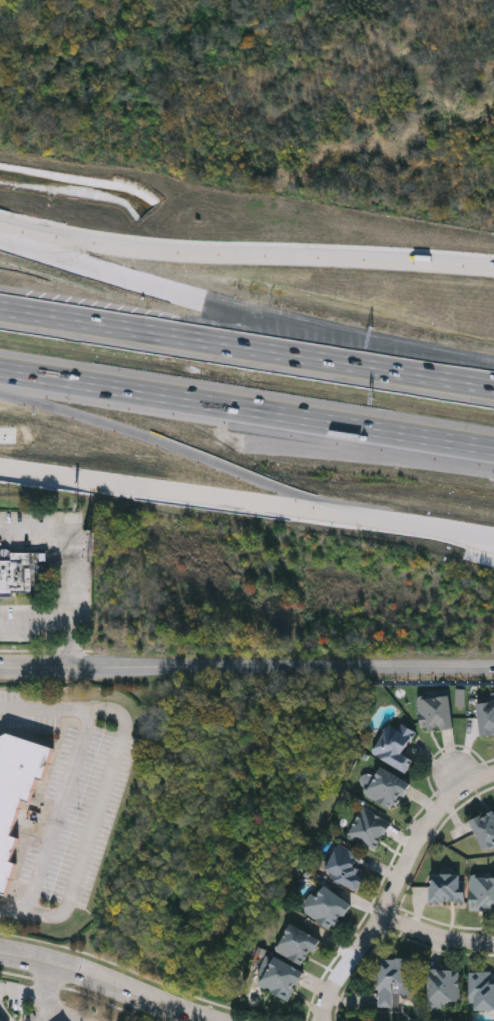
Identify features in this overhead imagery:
road: (245, 255)
road: (198, 302)
road: (197, 337)
road: (445, 375)
road: (238, 406)
road: (238, 440)
road: (485, 446)
road: (178, 495)
road: (426, 527)
building: (20, 571)
road: (73, 576)
road: (73, 646)
road: (246, 664)
building: (435, 711)
building: (486, 716)
building: (396, 745)
road: (482, 778)
road: (106, 787)
building: (389, 787)
building: (16, 789)
road: (56, 810)
building: (370, 827)
building: (485, 829)
building: (347, 866)
building: (449, 886)
building: (483, 891)
road: (389, 897)
building: (327, 906)
road: (435, 935)
building: (298, 944)
building: (282, 978)
building: (394, 978)
road: (103, 985)
building: (445, 986)
road: (23, 991)
building: (482, 991)
road: (46, 993)
road: (5, 1012)
road: (62, 1015)
building: (1, 1018)

